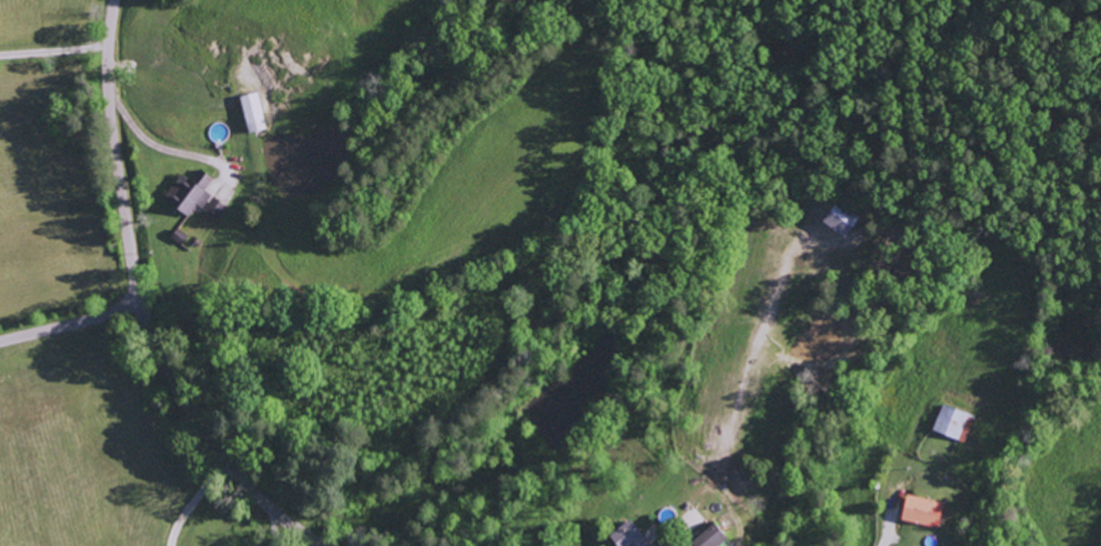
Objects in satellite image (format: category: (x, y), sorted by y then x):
building: (256, 114)
building: (193, 192)
building: (218, 210)
building: (842, 221)
road: (141, 305)
road: (71, 324)
building: (959, 423)
building: (927, 512)
road: (881, 529)
building: (637, 536)
building: (719, 537)

